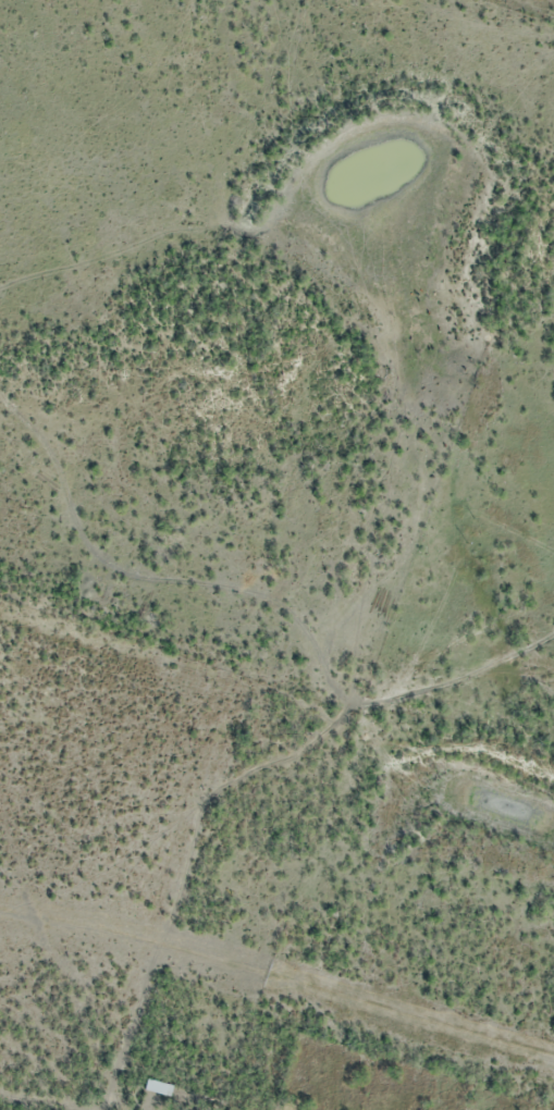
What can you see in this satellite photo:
building: (158, 1089)

